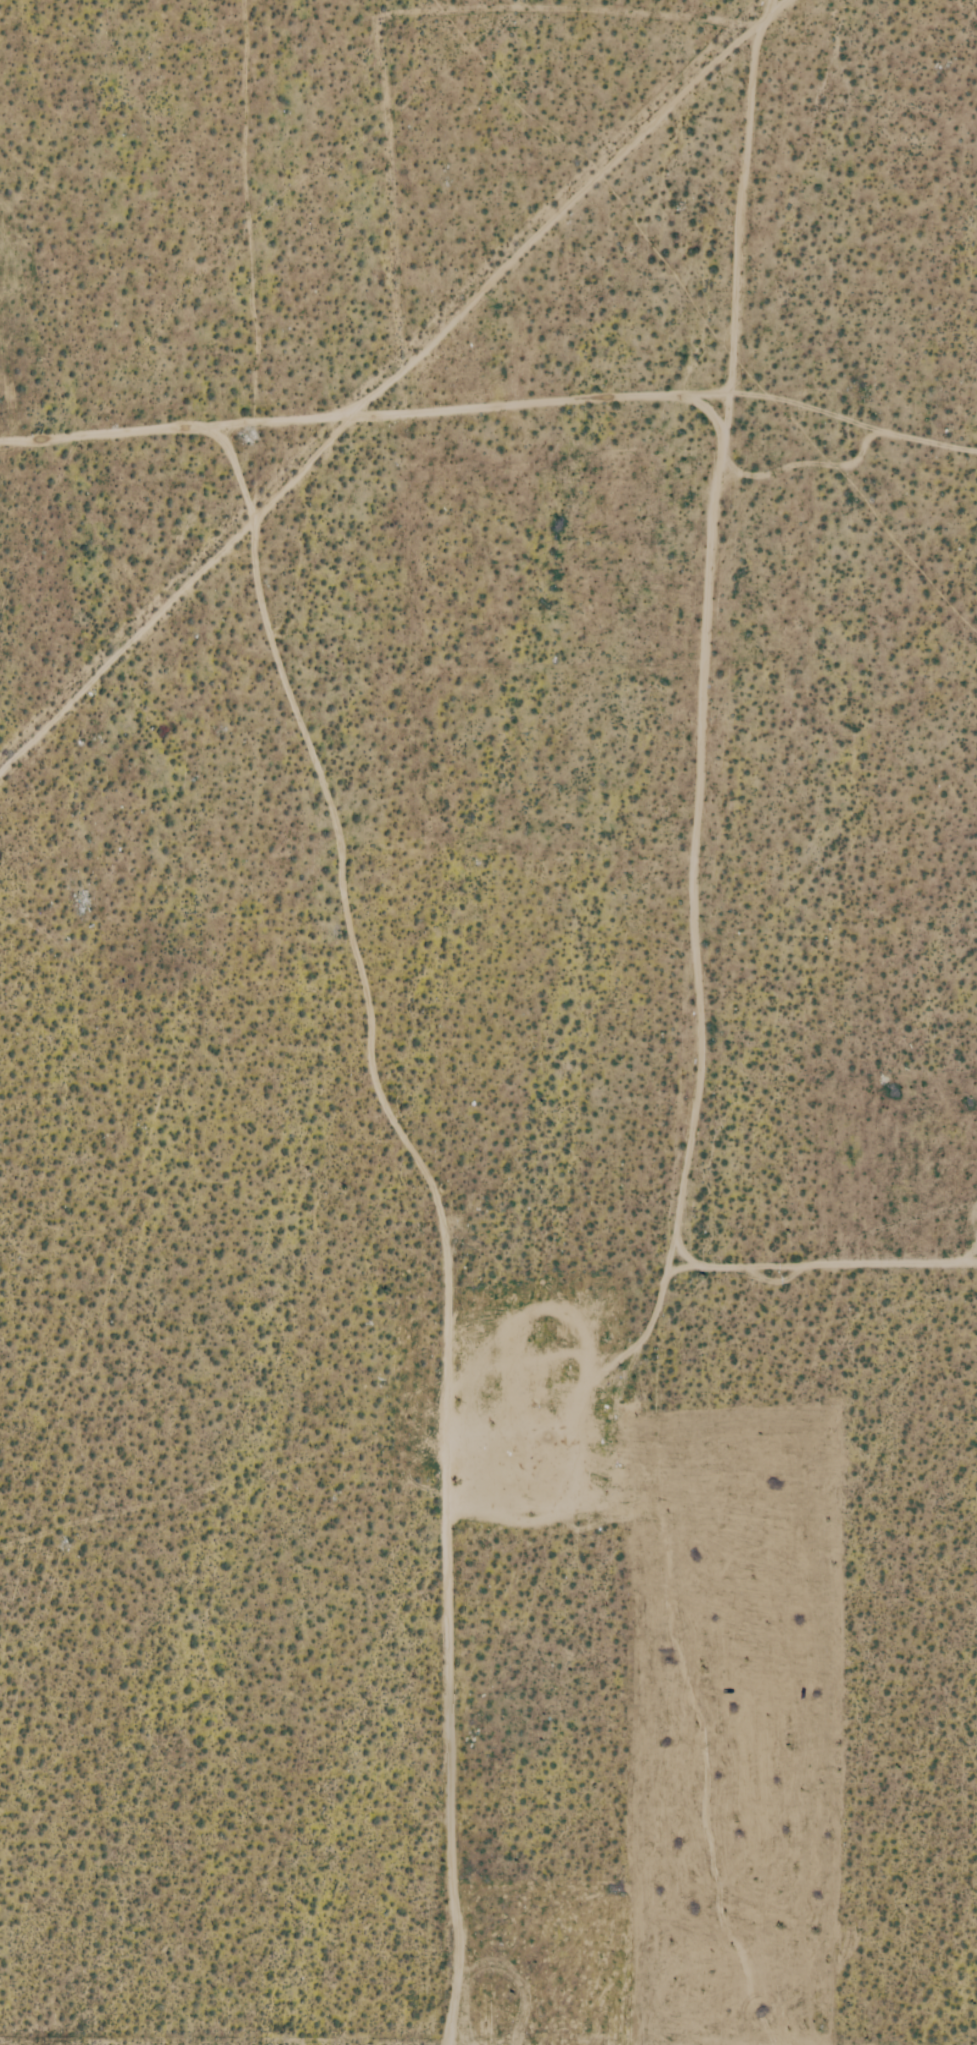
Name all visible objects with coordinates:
road: (388, 374)
road: (847, 417)
road: (108, 431)
road: (805, 463)
road: (677, 1229)
road: (824, 1264)

